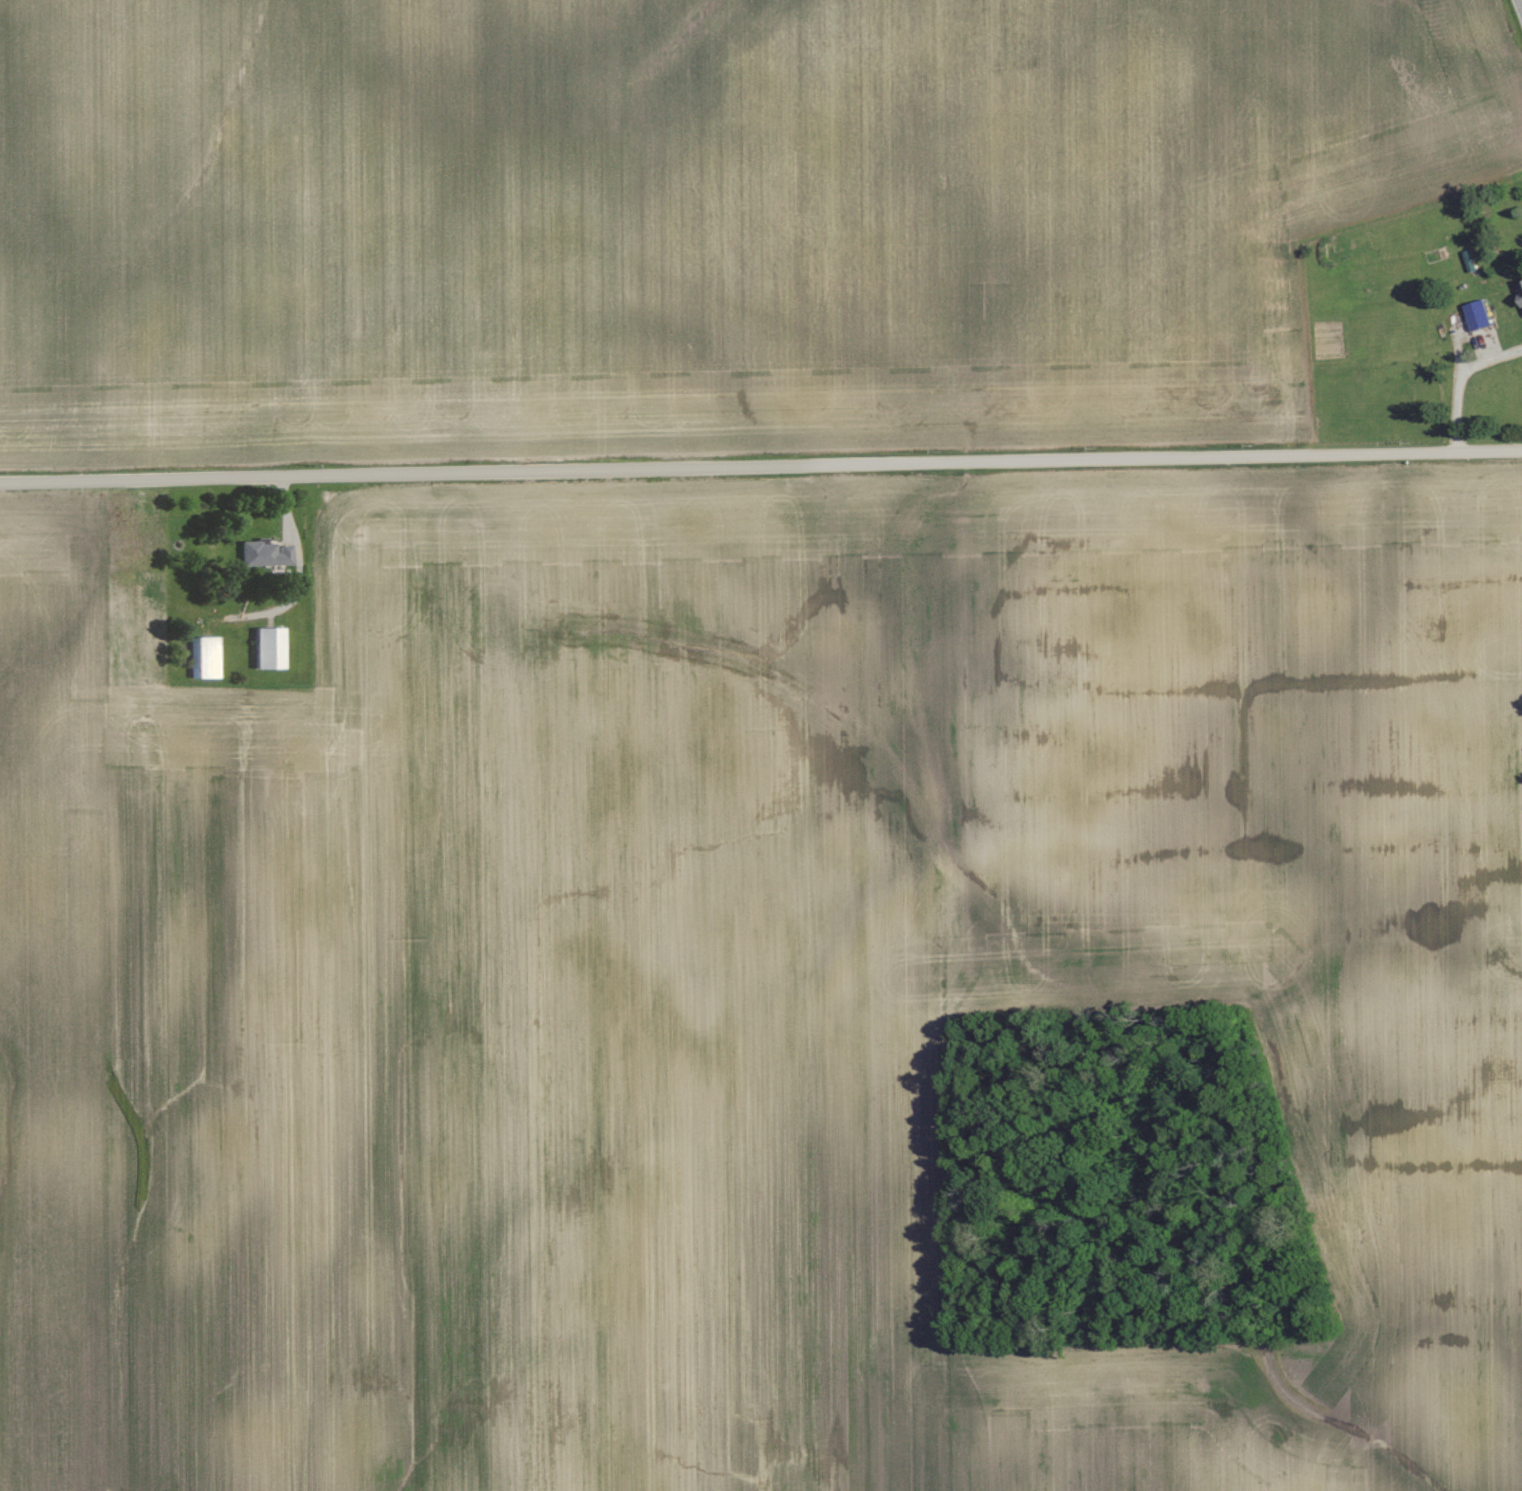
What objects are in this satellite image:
road: (1521, 2)
building: (1480, 315)
road: (1457, 379)
road: (760, 467)
road: (300, 583)
building: (269, 646)
building: (207, 656)

